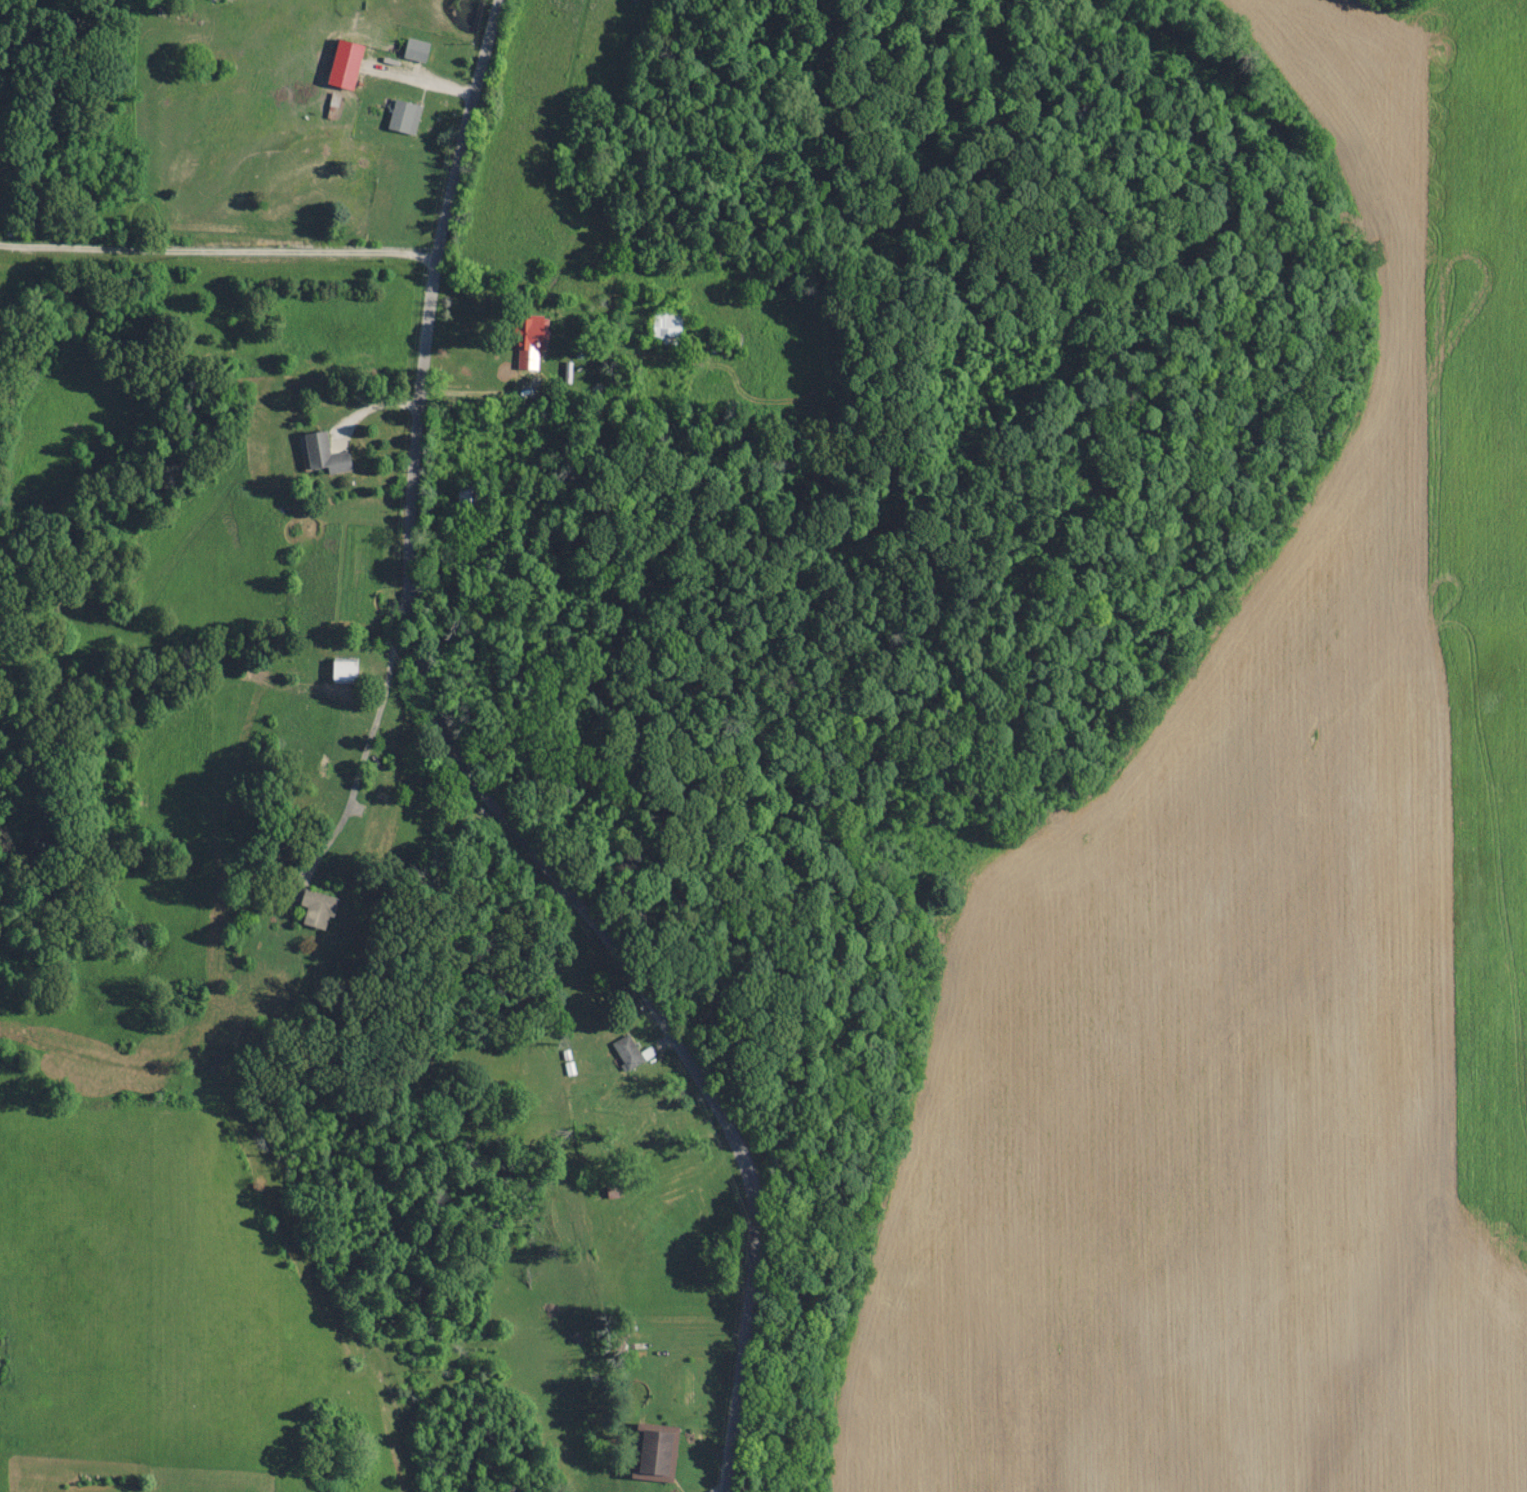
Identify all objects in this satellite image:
building: (413, 50)
building: (331, 106)
building: (401, 118)
building: (664, 328)
building: (526, 341)
building: (322, 455)
building: (467, 498)
building: (340, 672)
road: (473, 779)
building: (314, 908)
building: (625, 1052)
building: (651, 1452)

